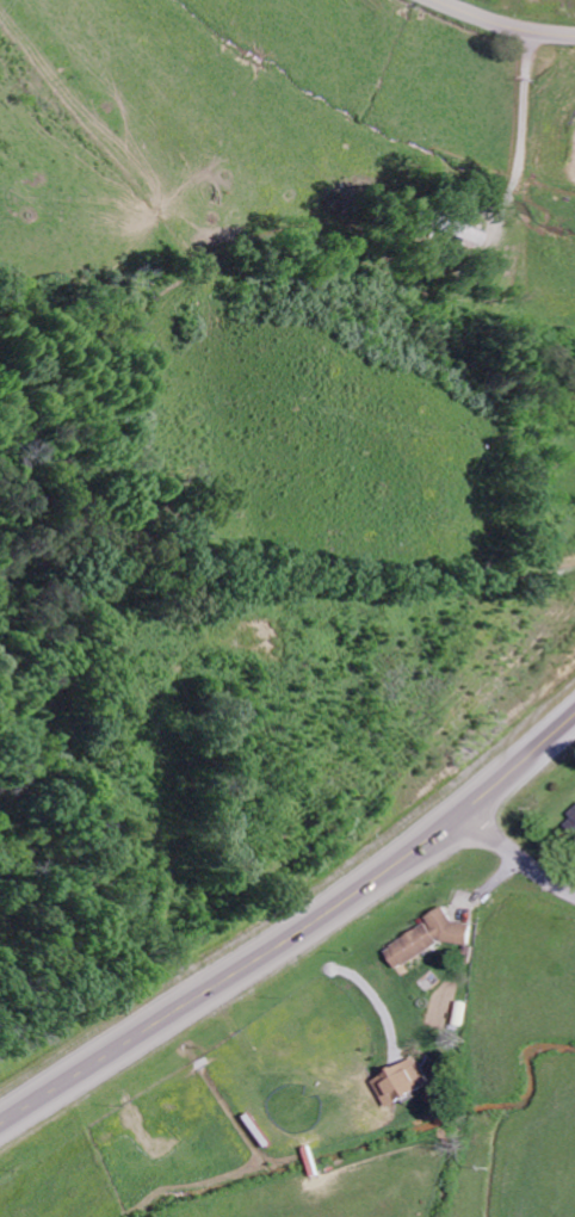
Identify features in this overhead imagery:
road: (506, 23)
building: (459, 228)
building: (570, 822)
road: (493, 866)
road: (291, 903)
building: (428, 938)
building: (402, 1082)

